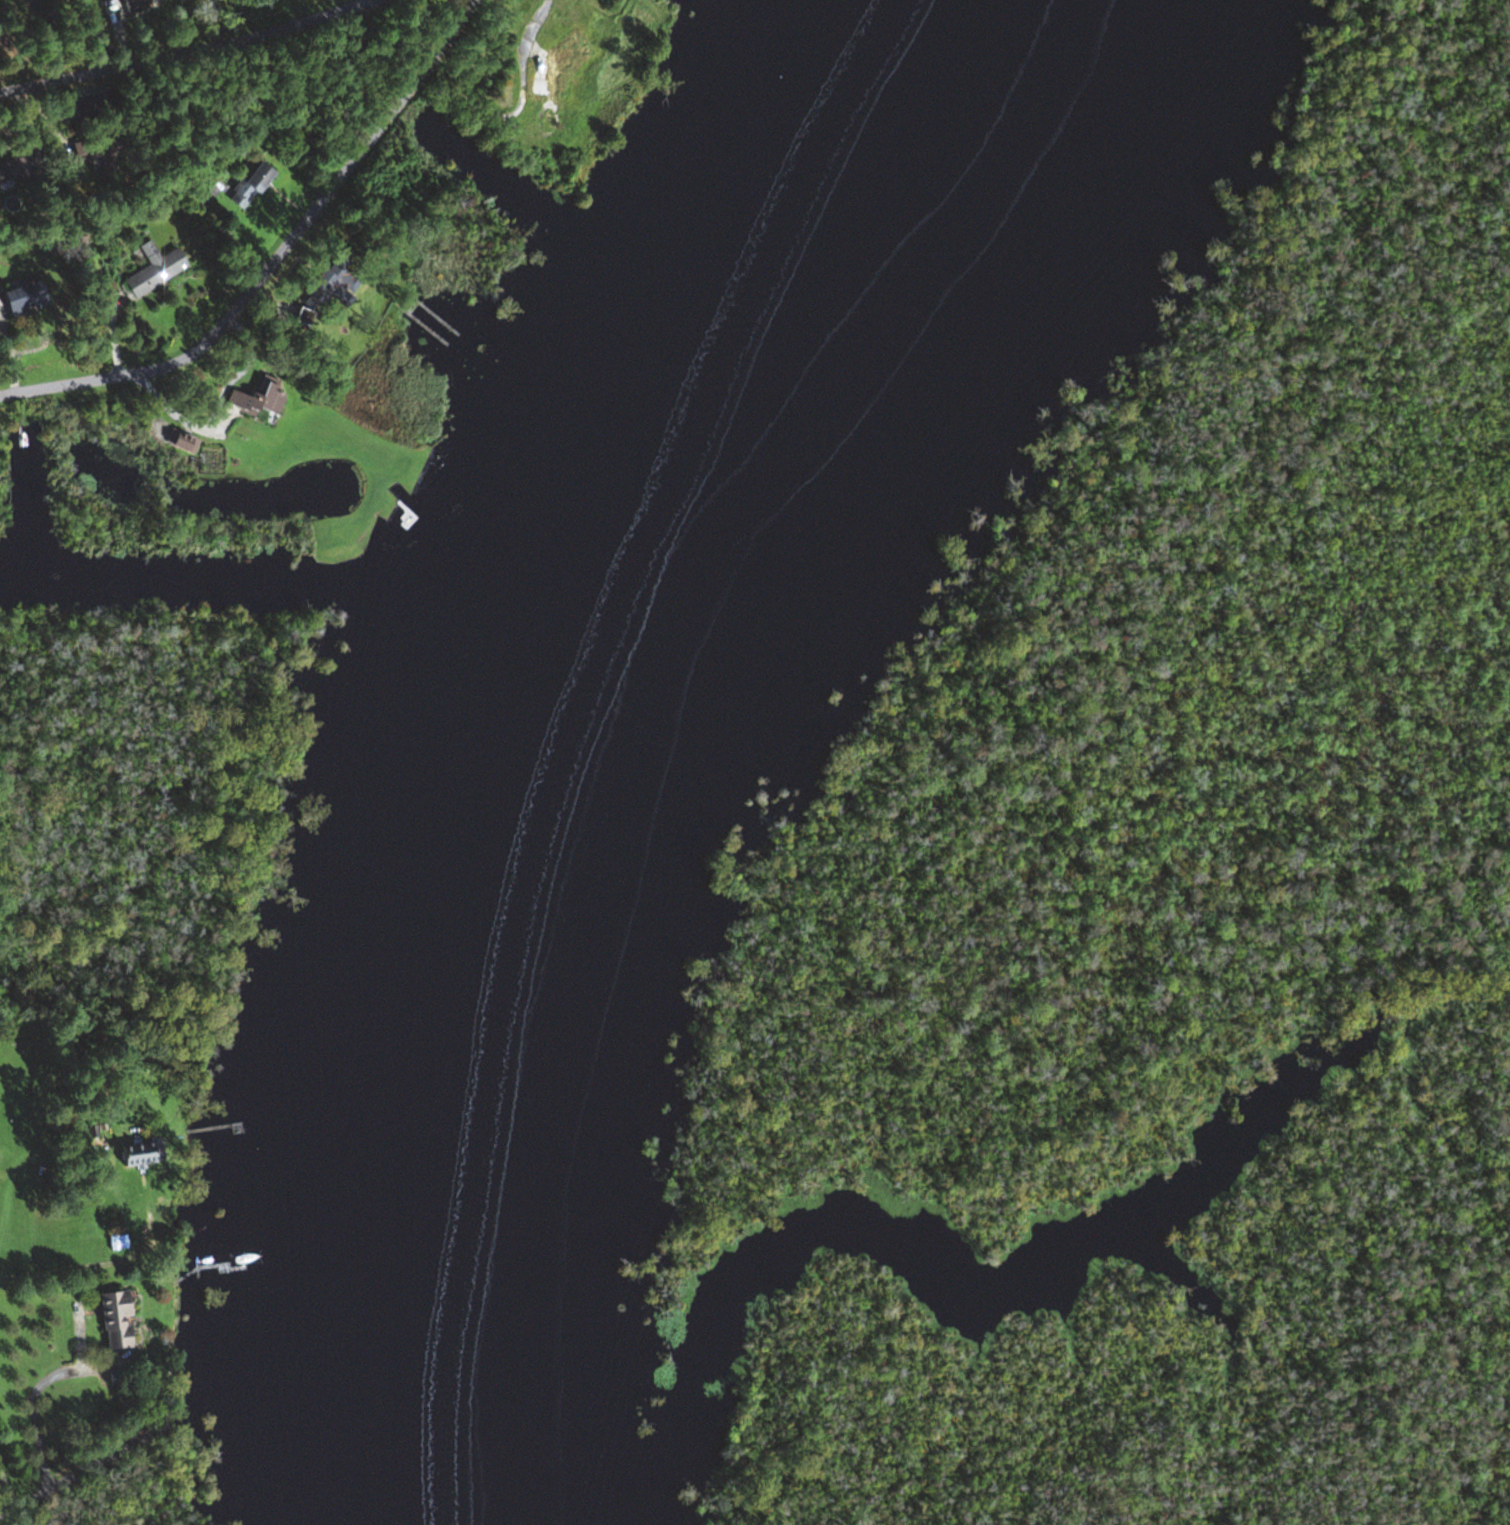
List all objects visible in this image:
building: (605, 2)
building: (136, 3)
road: (152, 28)
road: (192, 49)
building: (96, 151)
building: (14, 169)
building: (246, 186)
road: (275, 258)
building: (151, 270)
building: (331, 286)
building: (20, 299)
building: (254, 401)
building: (180, 442)
river: (553, 720)
building: (138, 1153)
road: (59, 1267)
building: (112, 1320)
road: (31, 1407)
road: (80, 1472)
road: (7, 1493)

